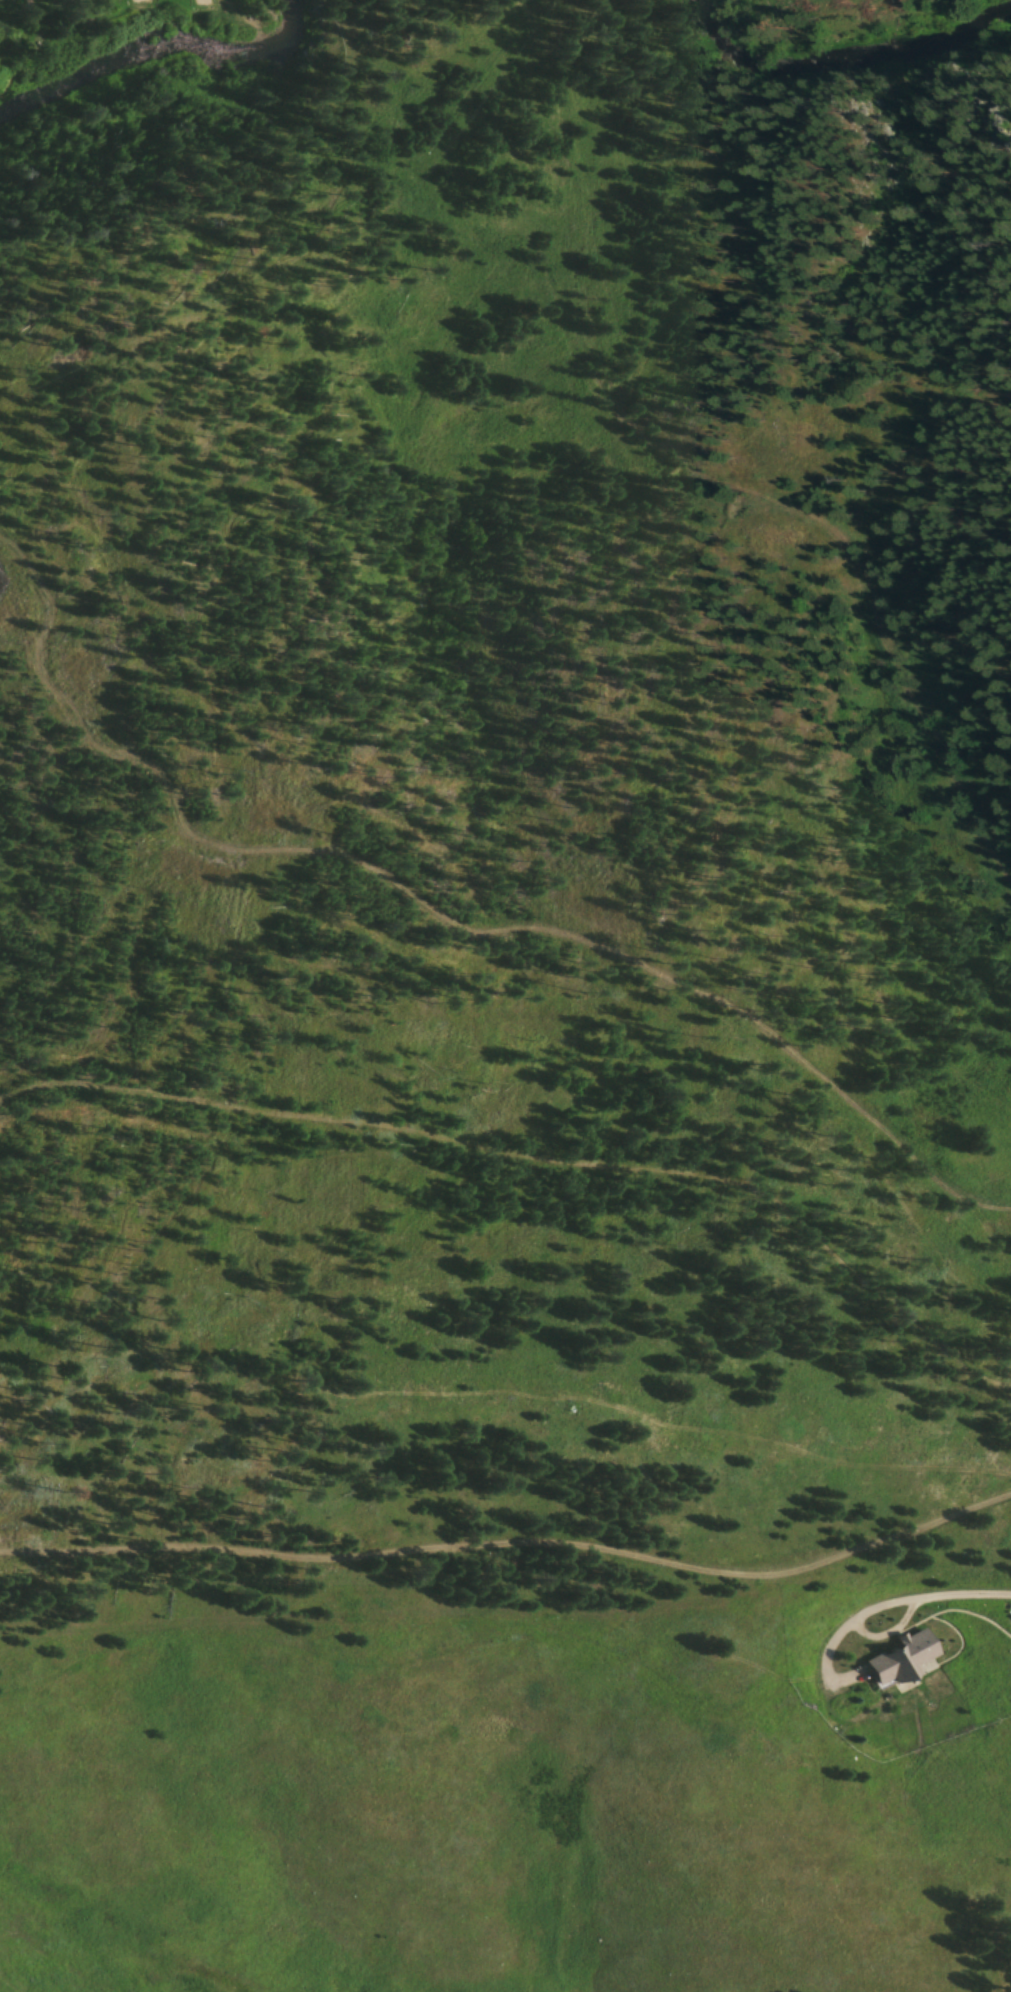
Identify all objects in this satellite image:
road: (12, 3)
road: (512, 1548)
road: (882, 1621)
building: (909, 1670)

